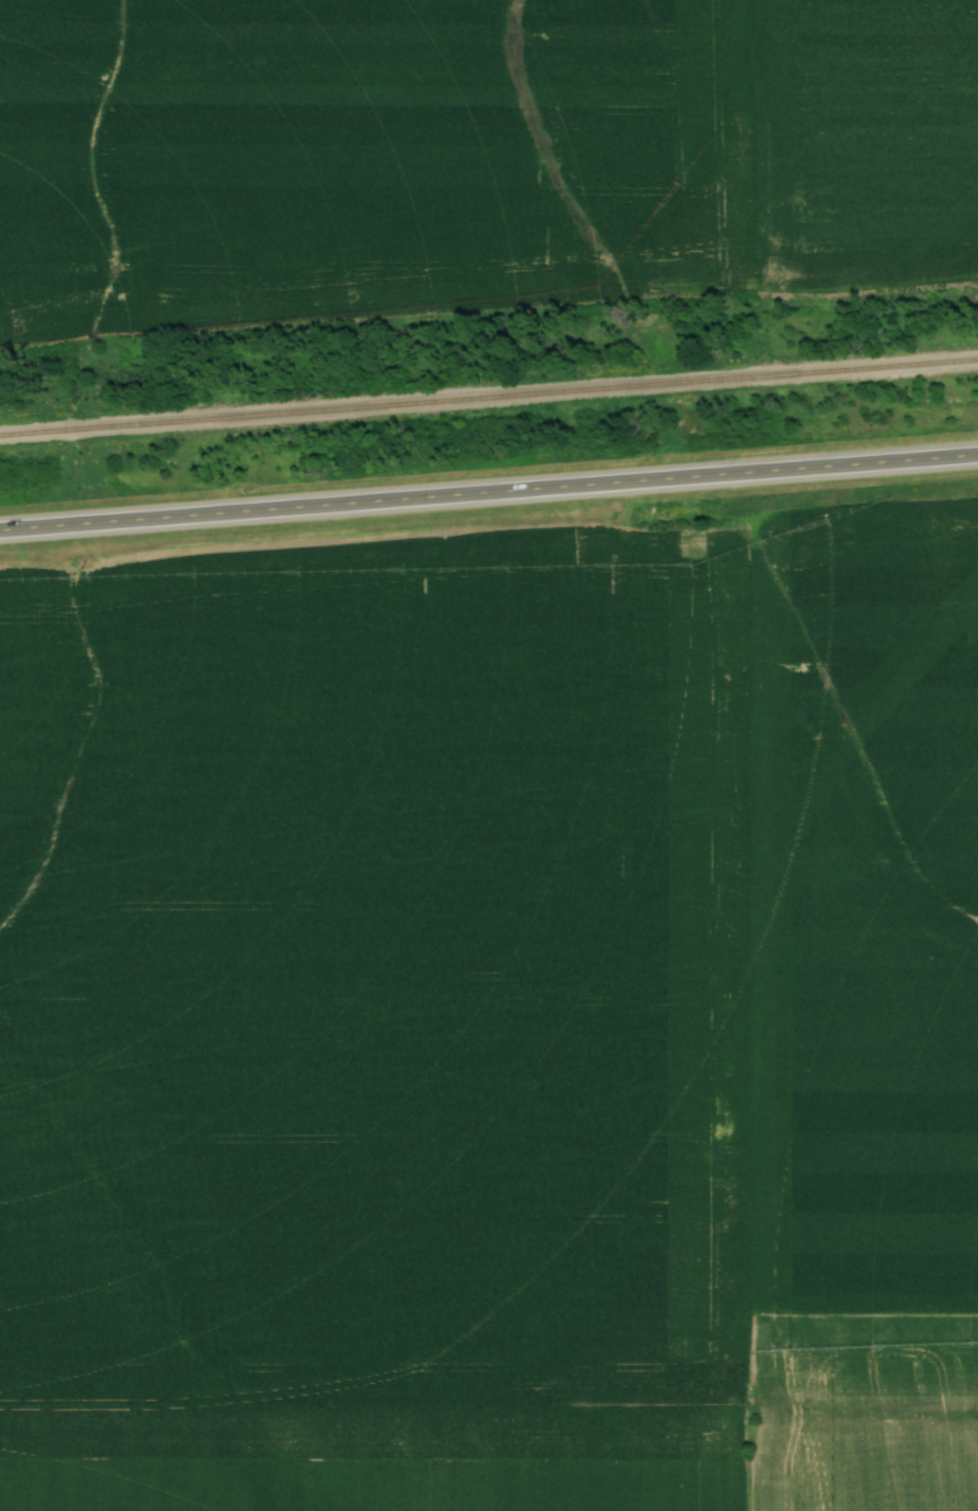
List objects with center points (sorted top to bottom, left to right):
railway: (488, 412)
road: (488, 493)

